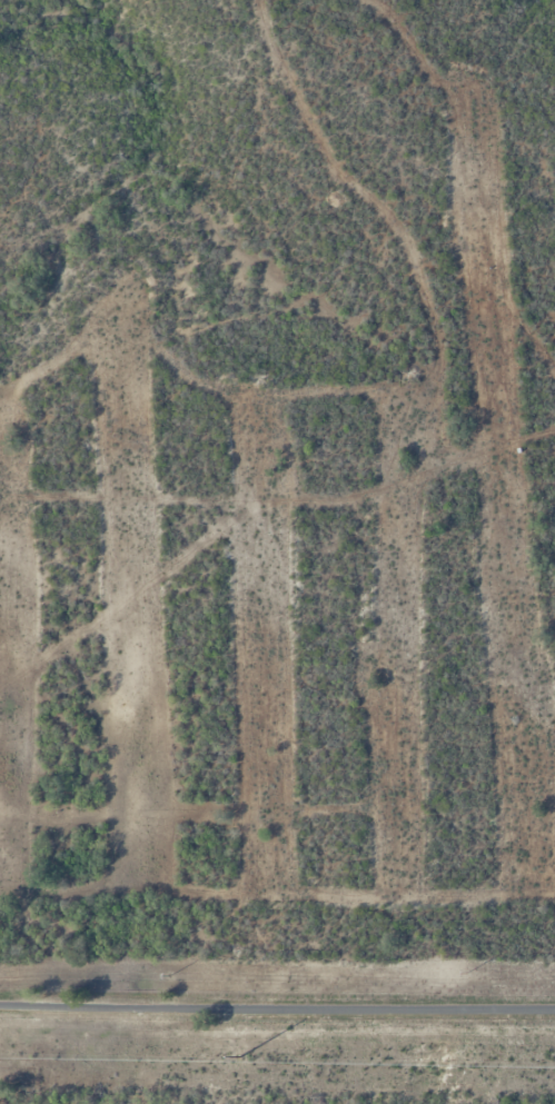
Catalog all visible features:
power tower: (466, 972)
power tower: (169, 974)
road: (277, 1008)
power tower: (238, 1056)

